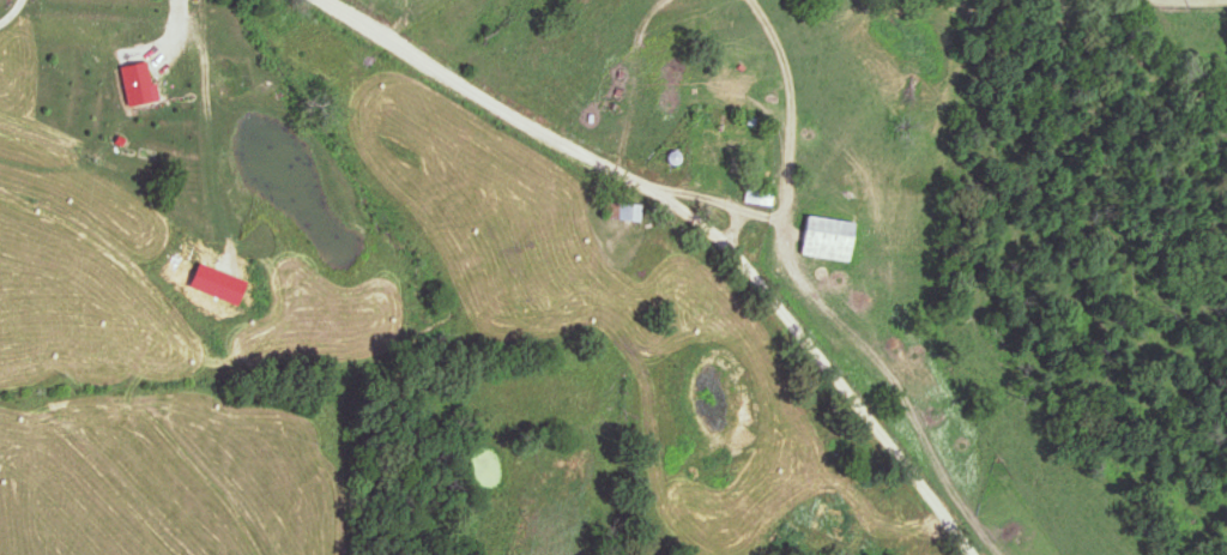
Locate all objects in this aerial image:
building: (731, 85)
building: (717, 149)
building: (758, 195)
building: (629, 211)
road: (694, 224)
building: (828, 237)

